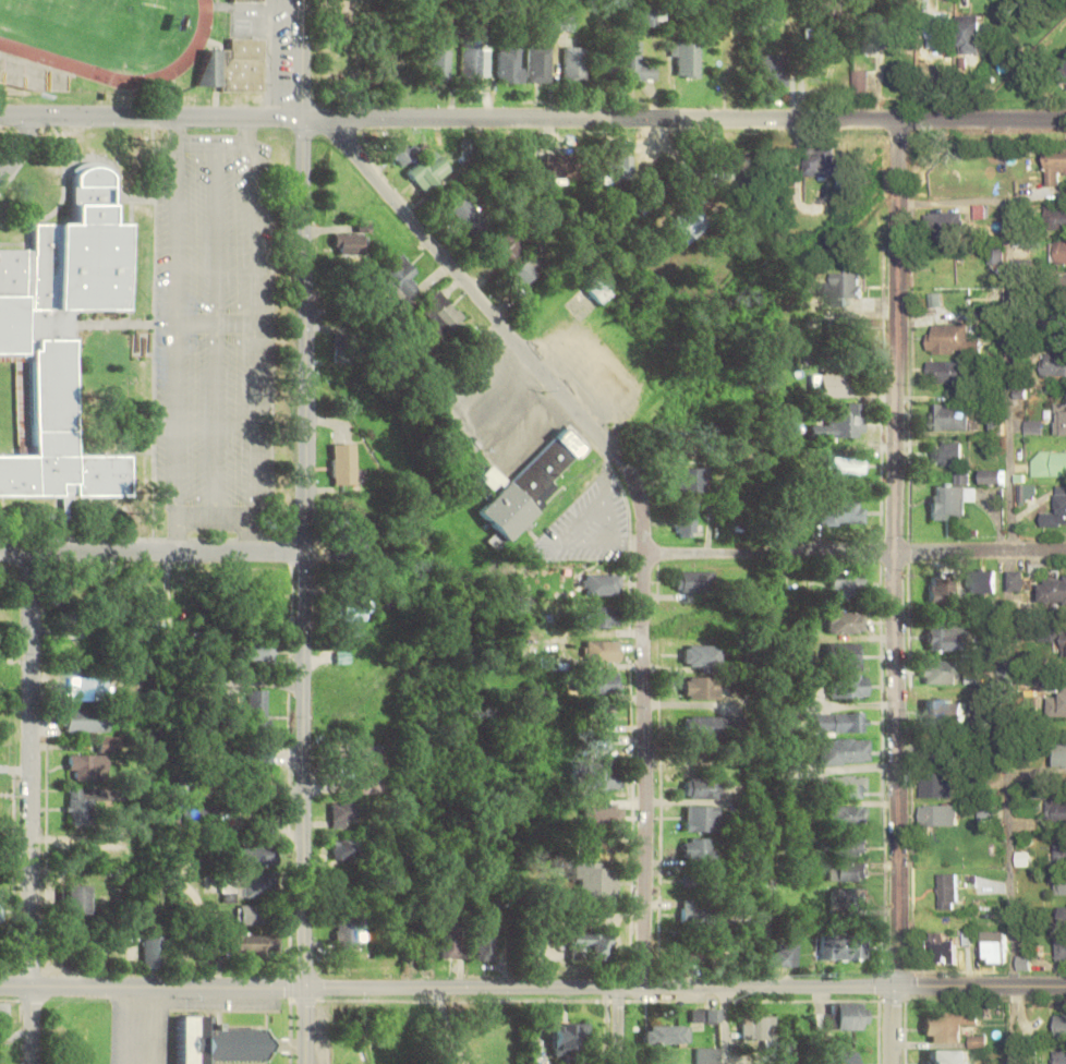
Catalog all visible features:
building: (249, 1)
building: (766, 5)
building: (649, 15)
park: (60, 20)
building: (937, 29)
building: (874, 32)
building: (971, 34)
park: (111, 46)
building: (474, 57)
building: (686, 57)
building: (573, 62)
building: (440, 63)
building: (511, 63)
building: (630, 63)
building: (538, 64)
building: (234, 65)
building: (773, 70)
building: (825, 74)
building: (860, 83)
road: (532, 120)
road: (215, 140)
road: (21, 147)
building: (401, 152)
road: (658, 157)
building: (731, 160)
building: (822, 161)
building: (559, 166)
building: (618, 170)
building: (1055, 170)
building: (428, 171)
building: (469, 216)
building: (1057, 217)
building: (944, 220)
building: (689, 222)
road: (215, 231)
building: (350, 244)
building: (505, 247)
building: (1058, 252)
building: (524, 273)
building: (399, 276)
building: (1062, 286)
building: (602, 288)
building: (844, 288)
building: (54, 303)
building: (439, 313)
parking lot: (214, 318)
road: (216, 323)
building: (1061, 323)
building: (955, 339)
building: (348, 344)
building: (1054, 363)
building: (948, 371)
building: (832, 384)
building: (950, 415)
building: (1061, 419)
road: (214, 420)
building: (841, 422)
building: (1034, 427)
building: (947, 454)
building: (344, 463)
building: (1049, 463)
building: (847, 467)
building: (61, 471)
building: (992, 475)
building: (690, 481)
building: (525, 486)
road: (304, 494)
road: (641, 498)
building: (952, 498)
building: (1062, 505)
building: (840, 511)
road: (215, 517)
building: (686, 521)
building: (348, 547)
road: (152, 553)
road: (857, 554)
building: (699, 580)
building: (1018, 580)
building: (982, 581)
road: (1008, 581)
building: (602, 584)
building: (847, 585)
building: (942, 589)
building: (1054, 590)
road: (896, 592)
building: (352, 607)
building: (601, 616)
building: (846, 621)
building: (69, 626)
building: (1061, 637)
building: (944, 638)
building: (604, 651)
building: (254, 652)
building: (704, 655)
building: (844, 656)
building: (938, 674)
building: (599, 682)
building: (847, 686)
building: (90, 687)
building: (703, 688)
building: (1061, 704)
building: (258, 709)
building: (944, 711)
building: (604, 715)
building: (85, 720)
building: (837, 723)
building: (704, 726)
building: (938, 749)
building: (604, 750)
building: (841, 752)
building: (255, 754)
building: (1062, 754)
building: (86, 767)
building: (371, 769)
building: (599, 778)
building: (936, 785)
building: (836, 786)
building: (701, 788)
building: (80, 807)
road: (32, 808)
building: (1056, 810)
building: (984, 813)
building: (344, 814)
building: (940, 814)
building: (848, 815)
building: (196, 818)
building: (701, 818)
building: (843, 846)
building: (698, 848)
building: (344, 849)
building: (259, 855)
building: (458, 855)
building: (1058, 855)
building: (847, 871)
building: (592, 880)
building: (699, 883)
building: (1059, 884)
building: (244, 886)
building: (946, 891)
building: (78, 899)
building: (845, 900)
building: (1, 910)
building: (695, 911)
building: (254, 915)
building: (1062, 915)
building: (347, 932)
building: (453, 934)
building: (253, 943)
building: (592, 943)
building: (486, 946)
building: (843, 947)
building: (993, 947)
building: (1061, 947)
building: (152, 951)
building: (944, 952)
building: (695, 953)
building: (787, 955)
road: (981, 987)
road: (448, 989)
building: (706, 1016)
building: (847, 1017)
building: (3, 1019)
building: (947, 1025)
road: (622, 1026)
road: (727, 1026)
road: (305, 1027)
building: (1061, 1027)
park: (381, 1028)
building: (760, 1028)
building: (666, 1035)
building: (570, 1039)
building: (216, 1041)
building: (708, 1055)
building: (949, 1056)
building: (838, 1057)
building: (1061, 1057)

